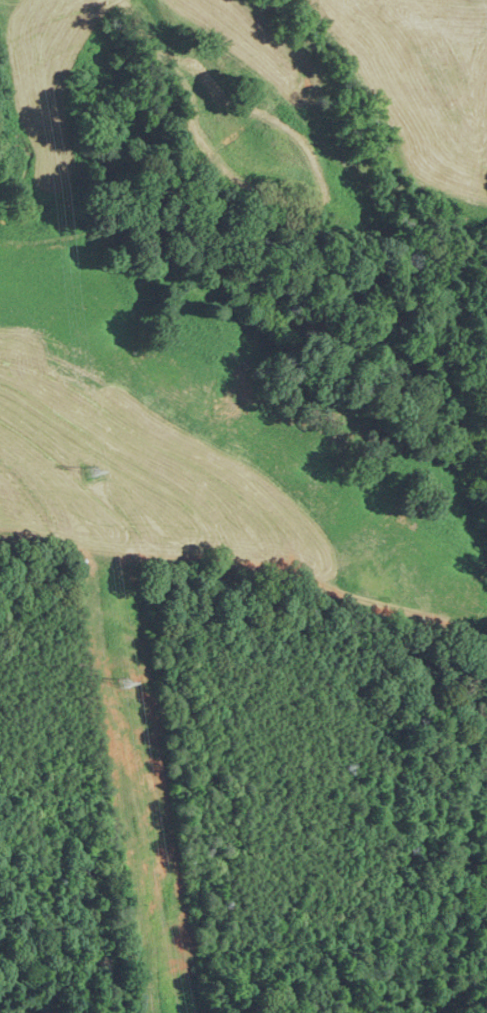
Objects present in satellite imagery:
power tower: (91, 473)
power tower: (123, 680)

